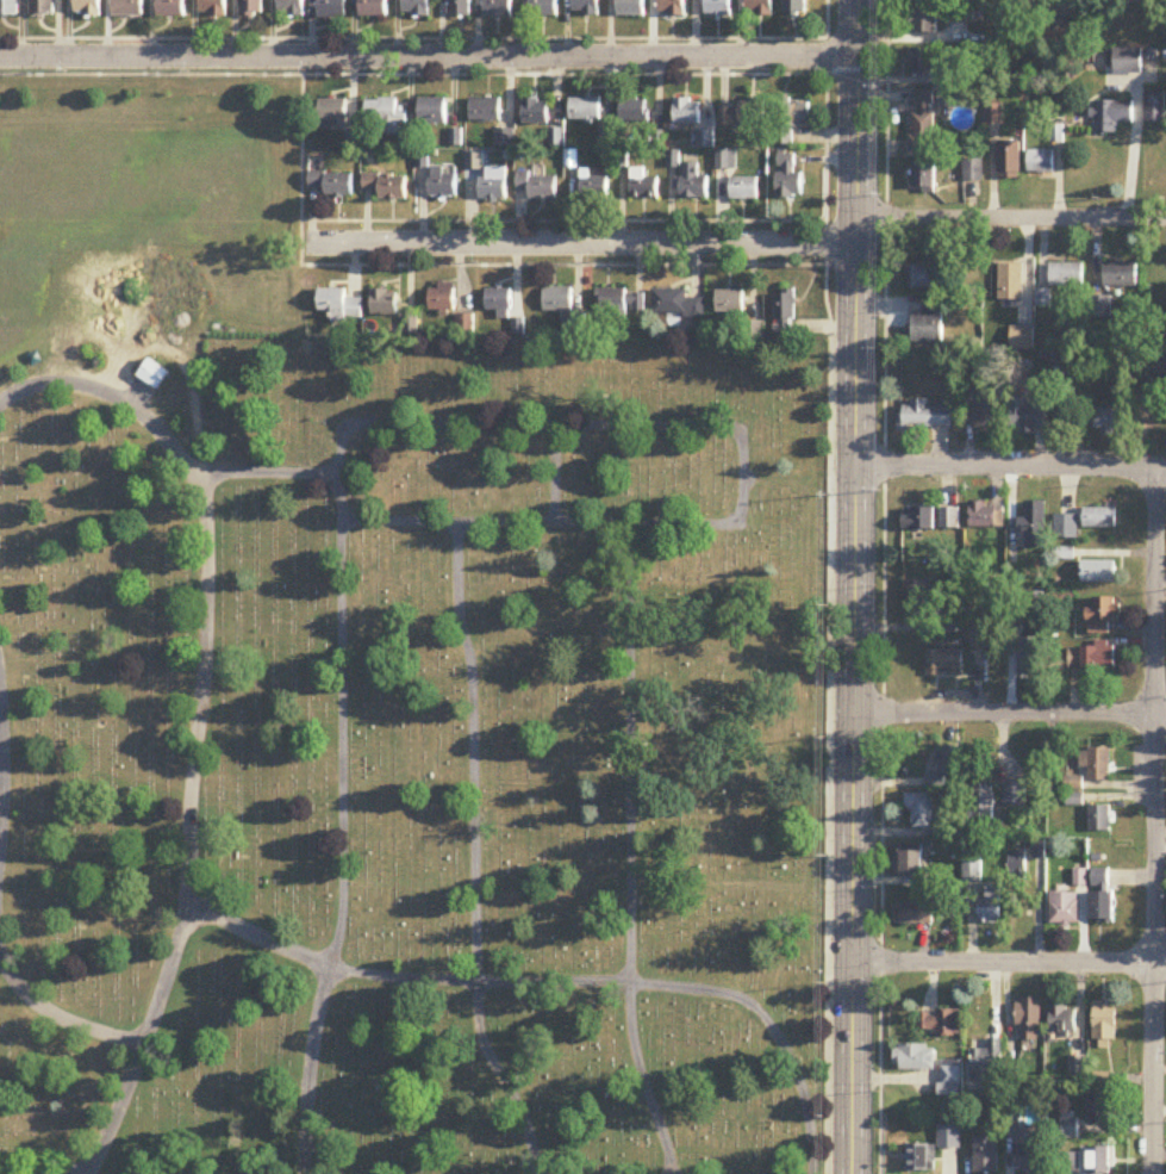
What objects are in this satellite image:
building: (793, 6)
building: (8, 7)
building: (42, 7)
building: (87, 7)
building: (127, 7)
building: (251, 7)
building: (291, 7)
building: (374, 7)
building: (416, 7)
building: (460, 7)
building: (498, 7)
building: (543, 7)
building: (586, 7)
building: (631, 7)
building: (672, 7)
building: (717, 7)
building: (759, 7)
building: (170, 8)
building: (213, 8)
building: (332, 8)
building: (956, 14)
building: (924, 21)
road: (412, 37)
road: (428, 55)
building: (1128, 61)
building: (922, 63)
road: (856, 67)
road: (412, 73)
building: (1155, 107)
building: (485, 110)
building: (585, 110)
building: (432, 111)
building: (634, 111)
building: (687, 112)
building: (535, 113)
building: (332, 114)
building: (744, 114)
building: (386, 116)
building: (1111, 117)
building: (791, 122)
building: (922, 122)
building: (1009, 162)
building: (1041, 162)
building: (974, 172)
building: (788, 176)
building: (923, 176)
building: (444, 181)
building: (333, 184)
building: (493, 184)
building: (693, 184)
building: (387, 186)
building: (538, 186)
building: (594, 186)
building: (643, 186)
building: (744, 190)
road: (1010, 218)
road: (562, 219)
road: (580, 242)
road: (498, 263)
building: (1066, 275)
building: (924, 277)
building: (1120, 277)
building: (1010, 284)
building: (443, 298)
building: (559, 299)
building: (499, 302)
building: (622, 302)
building: (731, 302)
building: (385, 303)
building: (676, 303)
building: (341, 305)
building: (1100, 308)
building: (785, 313)
building: (466, 324)
building: (929, 324)
building: (1022, 338)
building: (1162, 366)
building: (1073, 369)
building: (152, 375)
building: (987, 415)
building: (924, 416)
building: (1028, 420)
building: (1111, 421)
road: (711, 434)
road: (1010, 466)
road: (524, 470)
road: (212, 486)
building: (985, 516)
building: (949, 518)
building: (1100, 518)
building: (918, 520)
building: (1034, 526)
building: (1066, 528)
building: (1099, 573)
road: (829, 586)
road: (853, 586)
road: (883, 586)
building: (917, 602)
building: (1102, 616)
building: (1092, 658)
building: (944, 664)
park: (385, 700)
road: (1009, 712)
road: (453, 746)
building: (1097, 765)
road: (158, 766)
building: (947, 769)
building: (1015, 796)
building: (983, 806)
building: (922, 809)
building: (1099, 819)
road: (1156, 821)
road: (592, 846)
road: (299, 857)
building: (910, 863)
building: (973, 872)
building: (1102, 896)
building: (992, 903)
building: (1065, 908)
building: (915, 914)
road: (1008, 962)
road: (500, 980)
building: (1029, 1020)
building: (1062, 1020)
building: (939, 1024)
building: (1103, 1026)
building: (916, 1058)
building: (987, 1064)
building: (952, 1079)
building: (1099, 1111)
building: (1070, 1129)
building: (949, 1138)
building: (986, 1156)
building: (921, 1160)
building: (1028, 1160)
building: (1098, 1160)
building: (1070, 1163)

